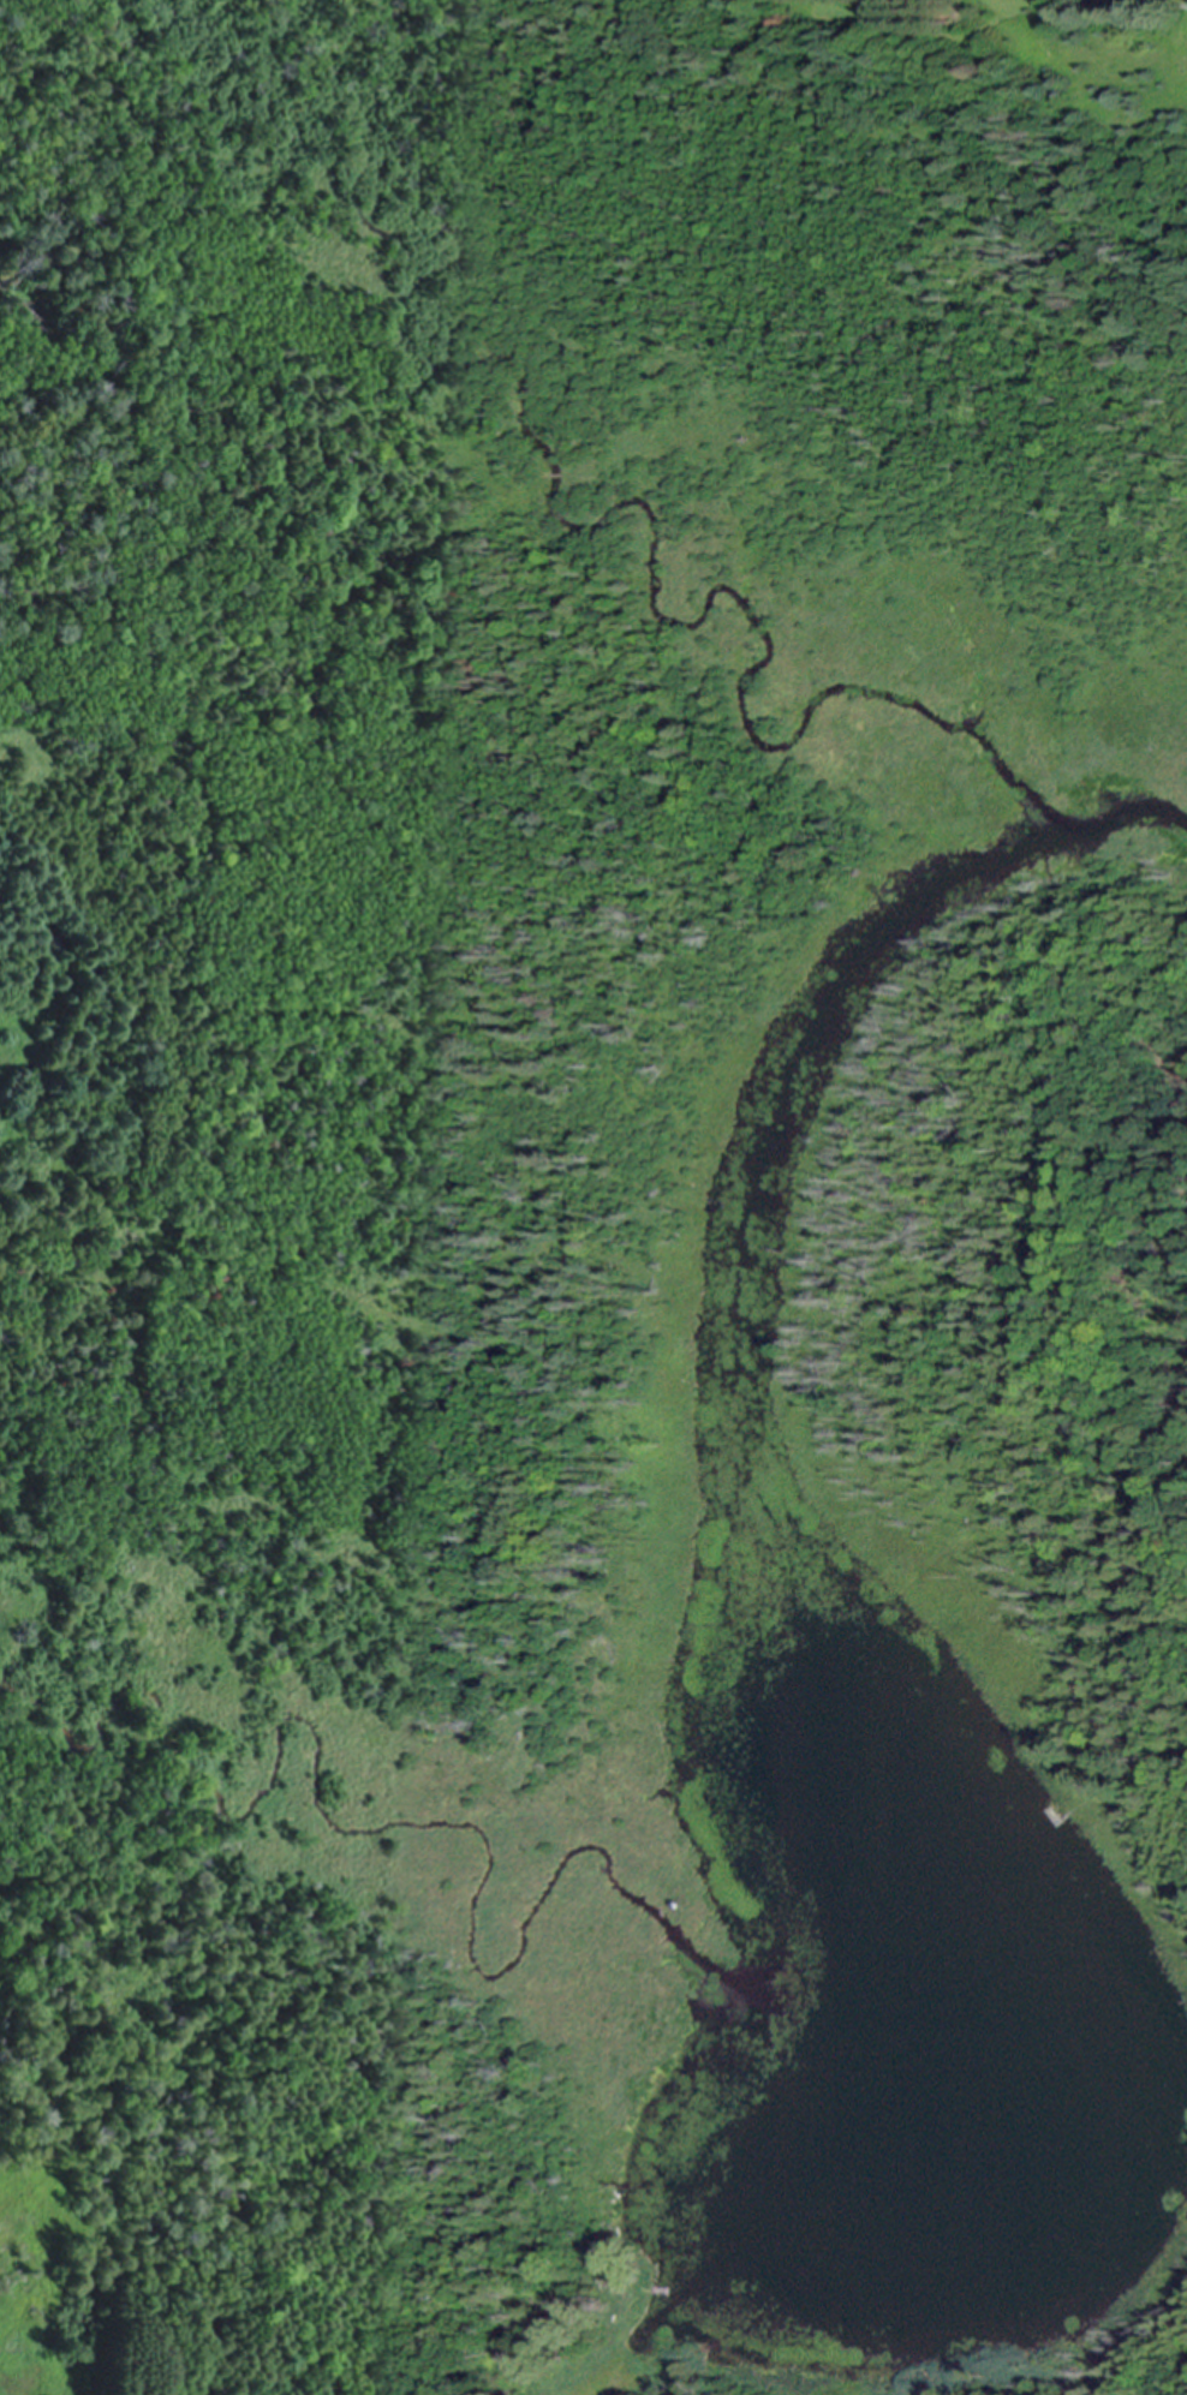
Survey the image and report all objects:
river: (1134, 804)

